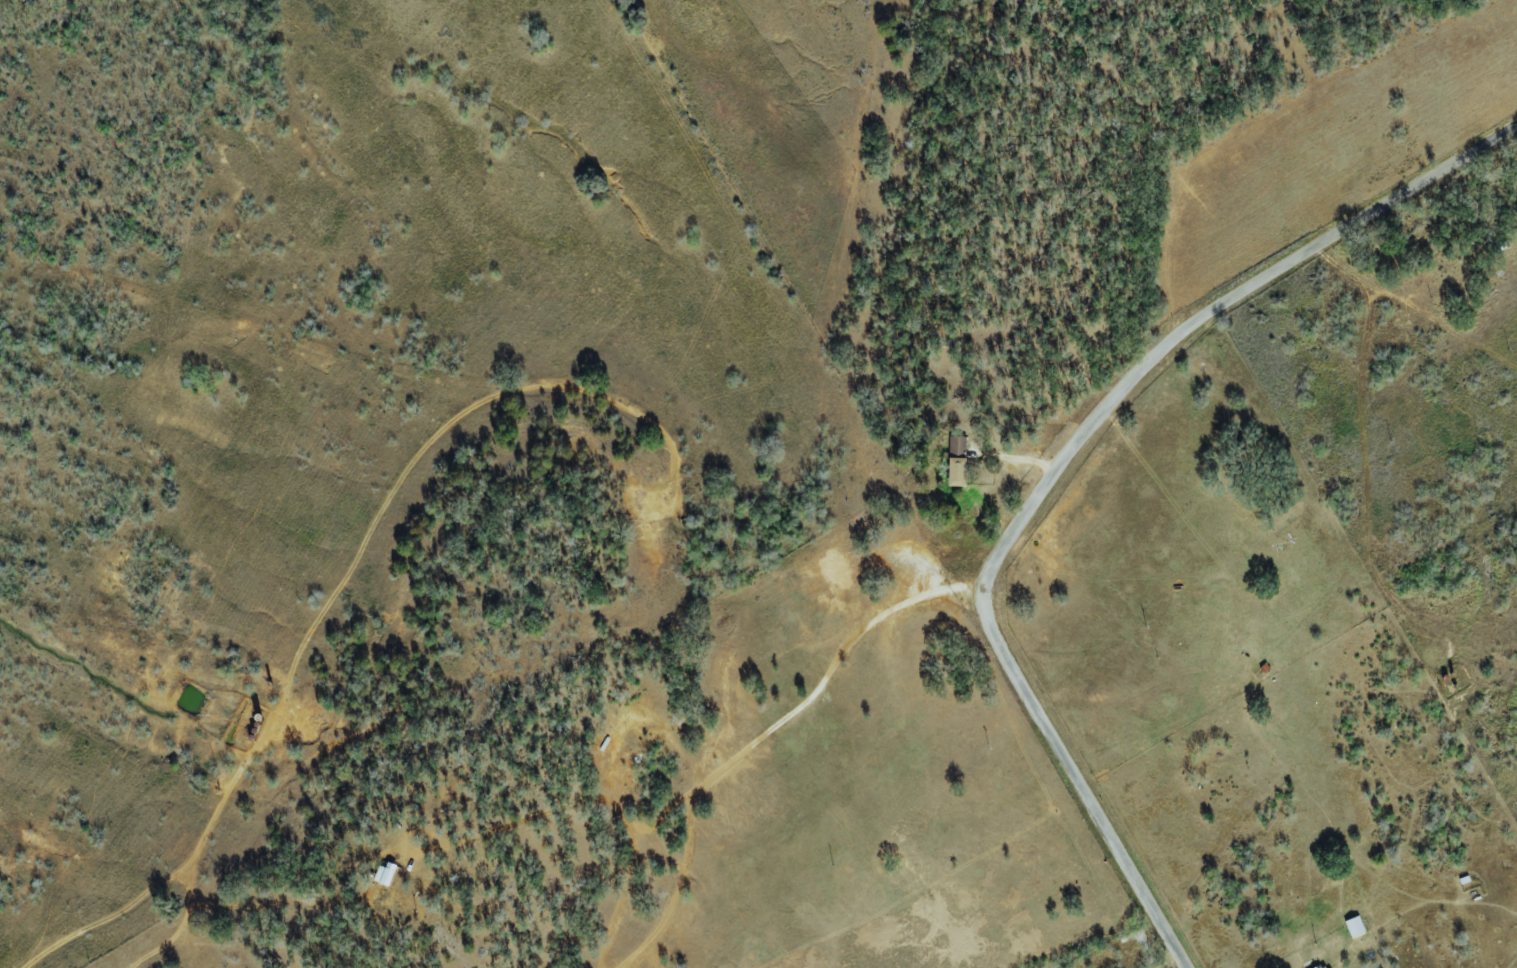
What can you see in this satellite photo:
building: (955, 462)
road: (1059, 464)
road: (761, 736)
building: (384, 874)
building: (1353, 927)
road: (1090, 936)
building: (1321, 966)

